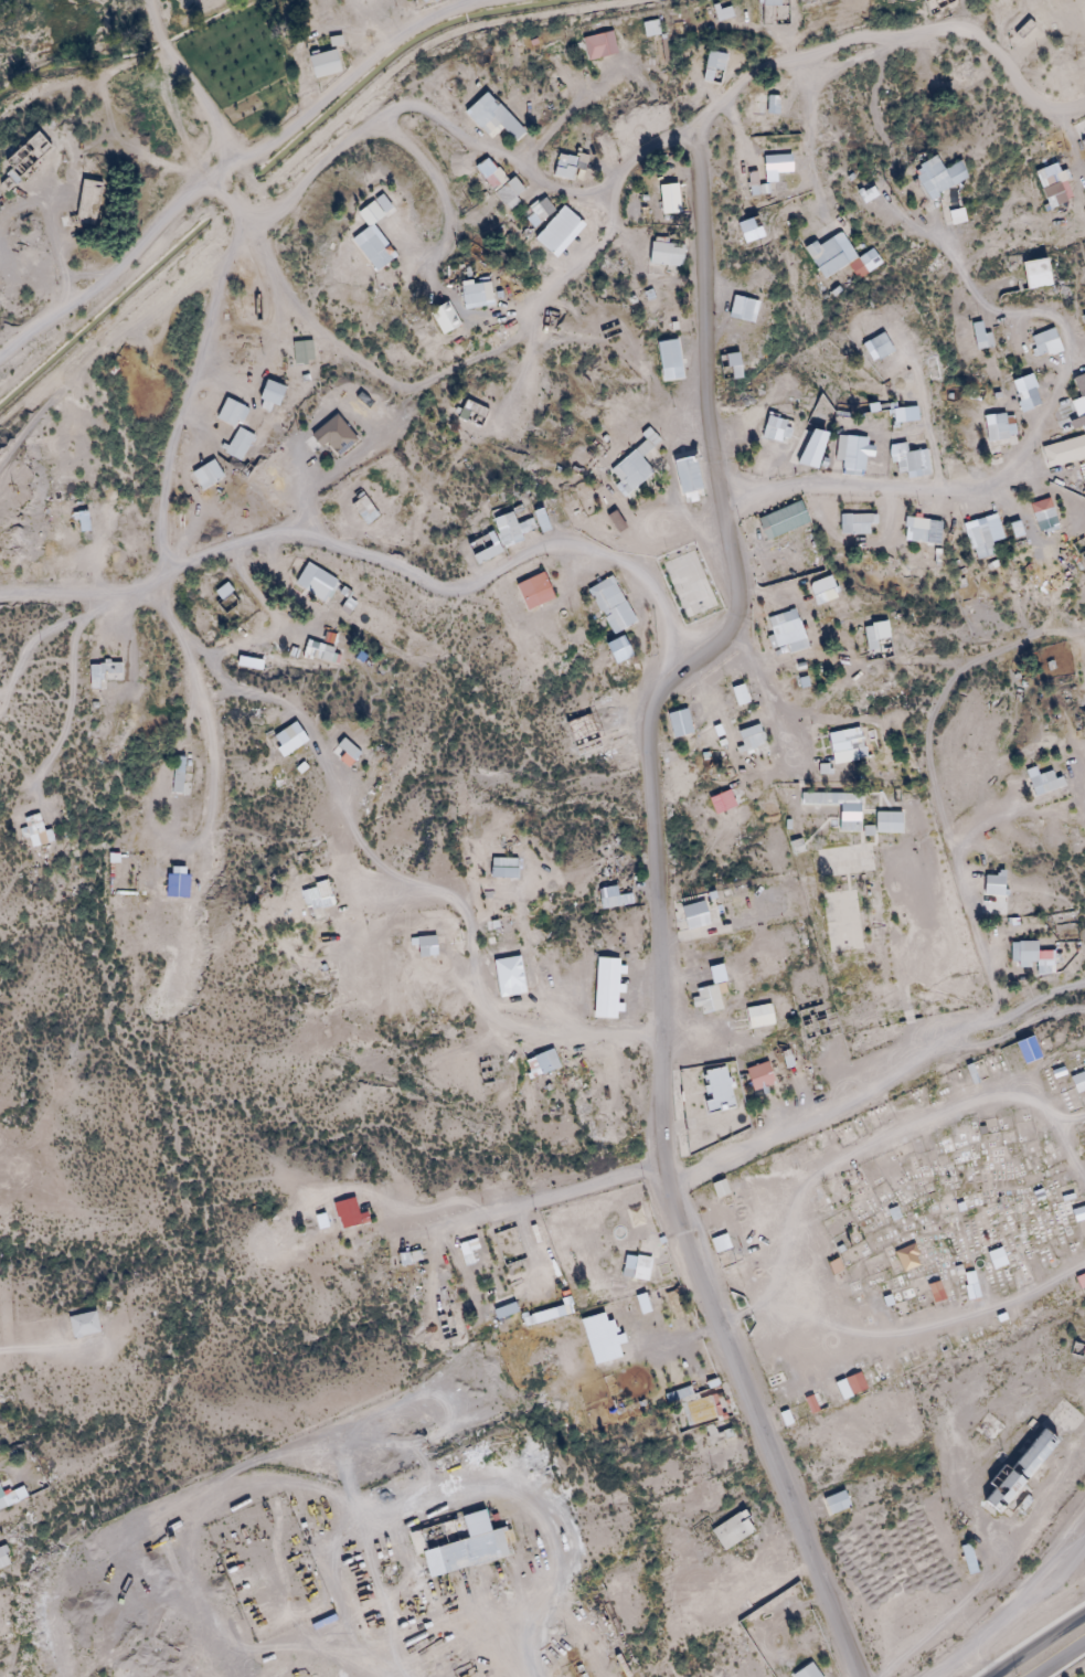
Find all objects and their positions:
park: (913, 1230)

